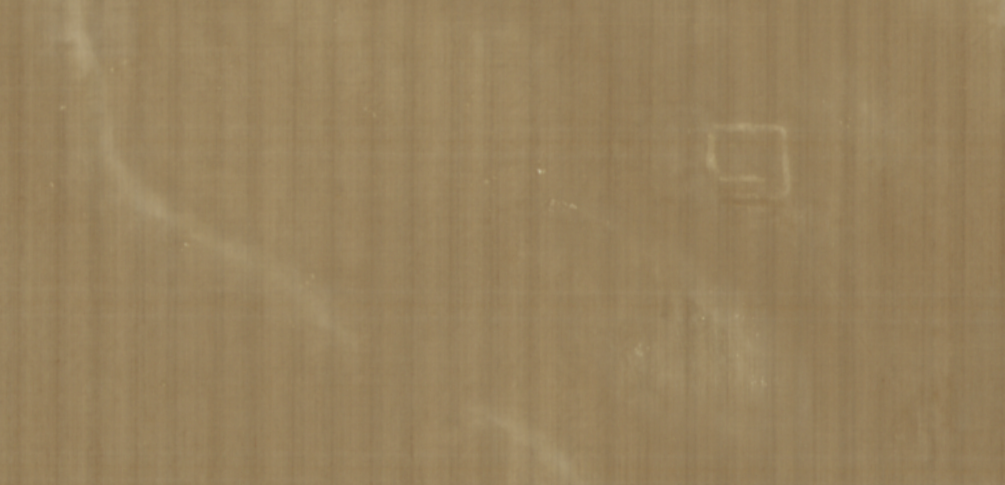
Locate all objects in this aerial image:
crop: (502, 242)

